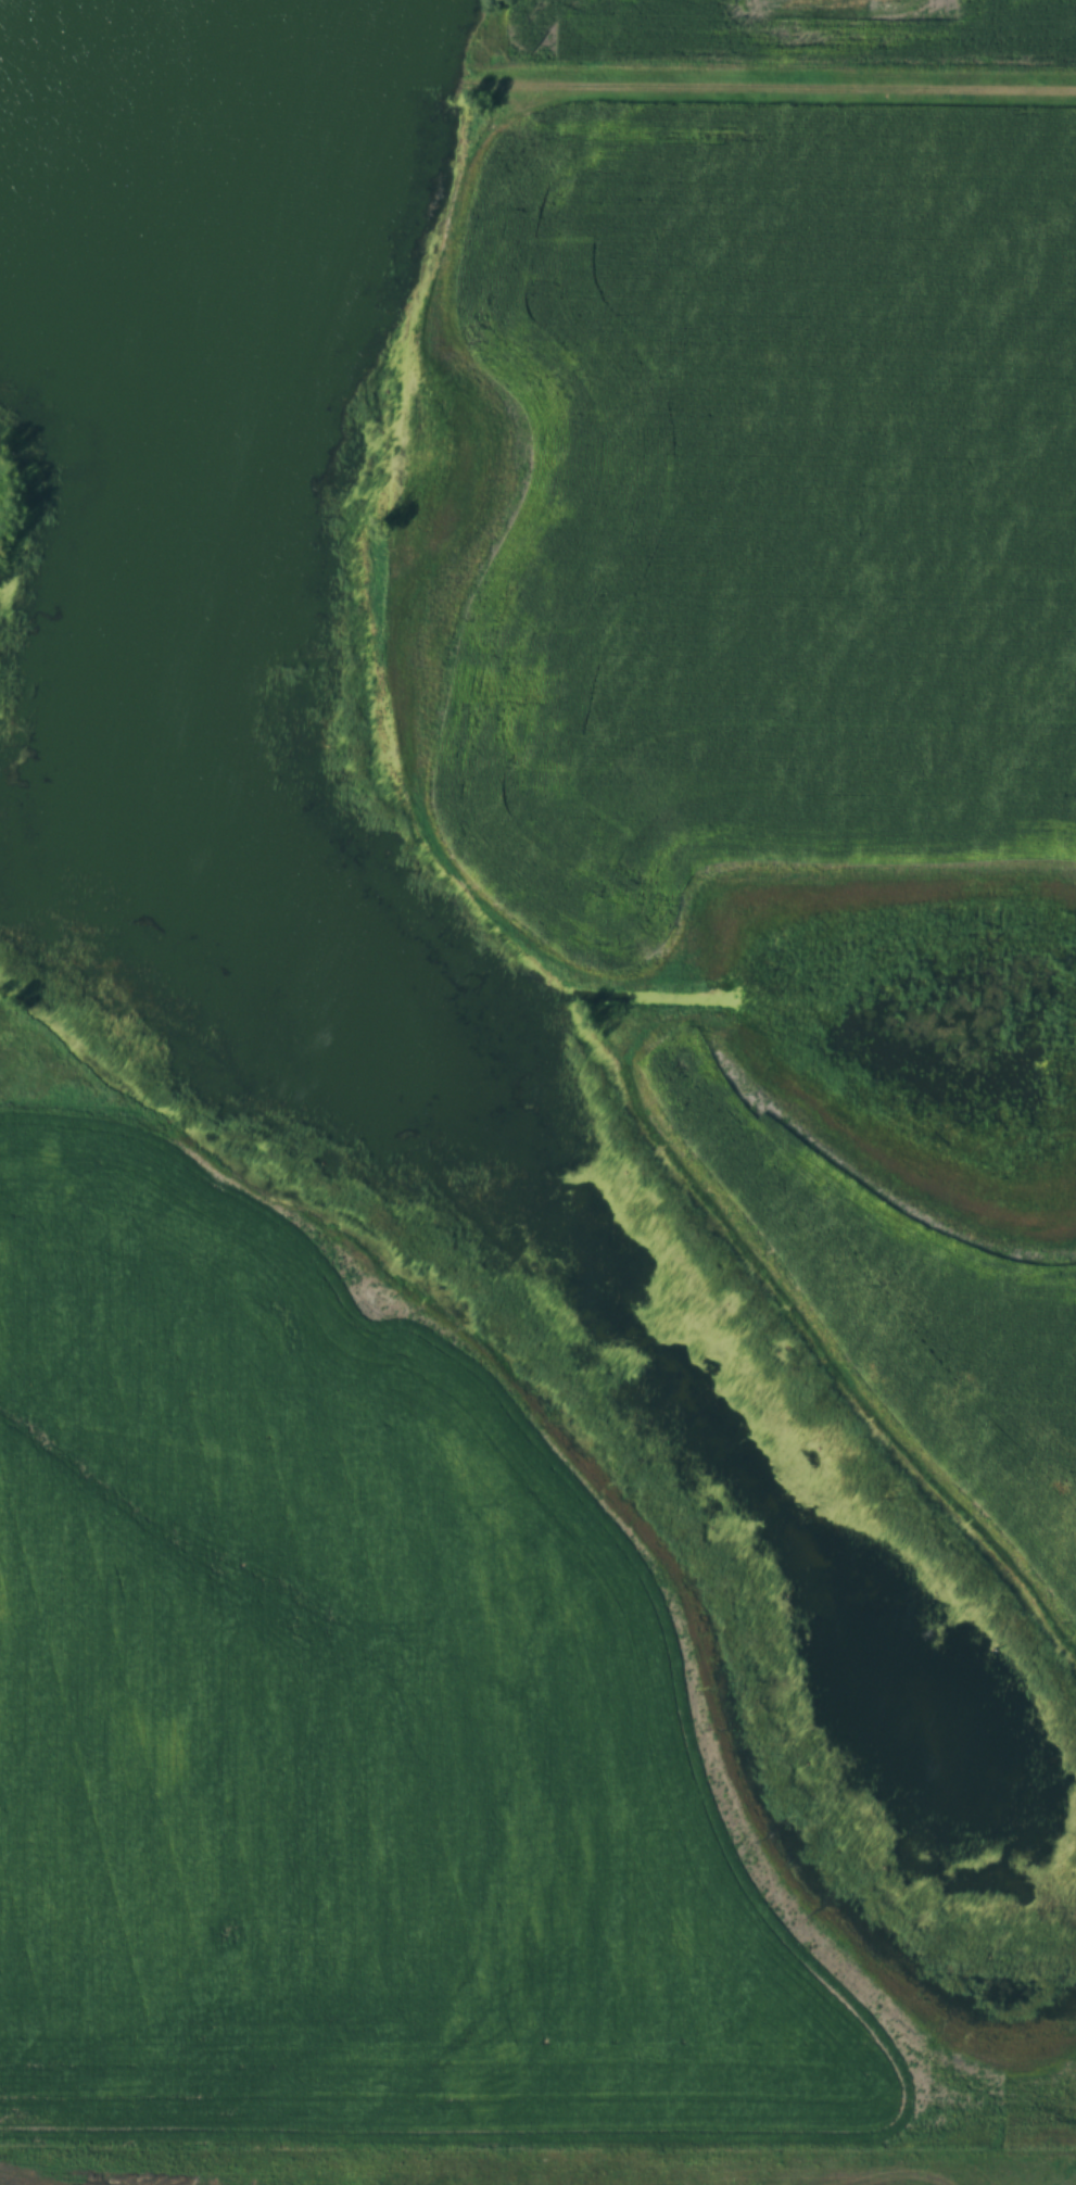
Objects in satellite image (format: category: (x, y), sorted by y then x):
road: (537, 84)

